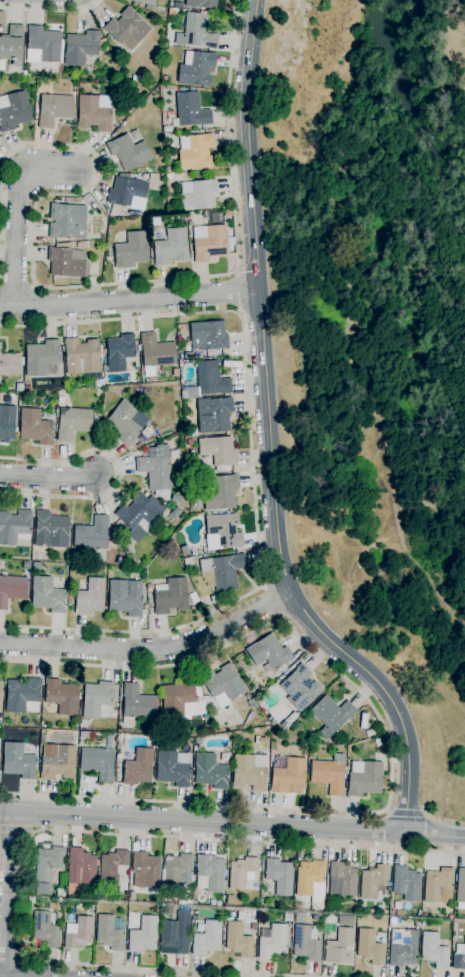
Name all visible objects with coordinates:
building: (144, 2)
building: (201, 4)
building: (177, 5)
building: (171, 11)
road: (52, 12)
building: (127, 29)
building: (198, 31)
building: (12, 45)
building: (42, 45)
building: (80, 48)
building: (196, 68)
building: (78, 70)
building: (165, 79)
building: (54, 109)
building: (13, 111)
building: (190, 111)
building: (95, 112)
river: (418, 124)
building: (167, 129)
building: (128, 152)
building: (195, 152)
building: (168, 170)
building: (145, 176)
building: (168, 177)
building: (186, 187)
building: (128, 193)
building: (199, 196)
road: (18, 210)
building: (215, 218)
building: (182, 219)
building: (65, 220)
building: (209, 242)
building: (82, 245)
building: (171, 248)
building: (131, 250)
building: (108, 259)
building: (67, 261)
road: (107, 285)
road: (237, 293)
road: (130, 300)
building: (208, 336)
park: (374, 340)
building: (103, 351)
building: (119, 352)
building: (155, 354)
building: (81, 356)
building: (187, 356)
building: (41, 357)
building: (10, 365)
building: (211, 380)
building: (99, 383)
building: (26, 388)
building: (59, 392)
building: (184, 396)
building: (62, 400)
building: (214, 415)
building: (7, 422)
building: (73, 422)
building: (125, 422)
building: (35, 427)
building: (192, 433)
road: (270, 439)
building: (189, 442)
building: (138, 446)
building: (218, 453)
road: (253, 466)
road: (120, 474)
building: (156, 475)
road: (48, 478)
building: (221, 493)
building: (140, 515)
building: (15, 526)
building: (50, 530)
building: (222, 532)
building: (92, 534)
building: (187, 561)
building: (26, 565)
building: (83, 570)
building: (223, 570)
building: (12, 589)
building: (47, 595)
building: (171, 596)
building: (90, 597)
building: (126, 597)
building: (214, 599)
road: (275, 602)
road: (151, 649)
building: (269, 654)
building: (223, 684)
building: (299, 688)
building: (0, 694)
building: (22, 696)
building: (62, 696)
building: (177, 697)
building: (97, 700)
building: (253, 702)
building: (137, 704)
building: (330, 715)
building: (291, 718)
building: (75, 733)
building: (370, 733)
building: (84, 735)
building: (12, 737)
building: (42, 739)
building: (197, 741)
building: (262, 741)
road: (387, 742)
building: (310, 754)
building: (19, 760)
building: (58, 763)
building: (98, 763)
building: (138, 767)
building: (172, 768)
building: (210, 771)
building: (250, 772)
building: (287, 774)
building: (329, 774)
building: (364, 778)
road: (405, 813)
road: (232, 823)
road: (50, 831)
road: (15, 833)
building: (112, 864)
building: (47, 867)
building: (80, 870)
building: (177, 870)
building: (145, 871)
building: (241, 872)
building: (210, 874)
building: (279, 876)
building: (342, 879)
building: (311, 880)
building: (374, 882)
building: (406, 883)
building: (438, 885)
building: (460, 888)
road: (8, 893)
building: (60, 893)
building: (132, 896)
building: (31, 899)
building: (230, 900)
building: (212, 903)
building: (219, 903)
building: (166, 909)
building: (401, 913)
building: (194, 916)
building: (286, 917)
building: (303, 918)
building: (346, 920)
building: (423, 922)
building: (253, 927)
building: (46, 928)
building: (80, 933)
building: (109, 933)
building: (175, 934)
building: (143, 935)
building: (207, 938)
building: (238, 940)
building: (272, 941)
building: (306, 943)
building: (340, 947)
building: (370, 947)
building: (402, 947)
building: (433, 951)
building: (459, 957)

